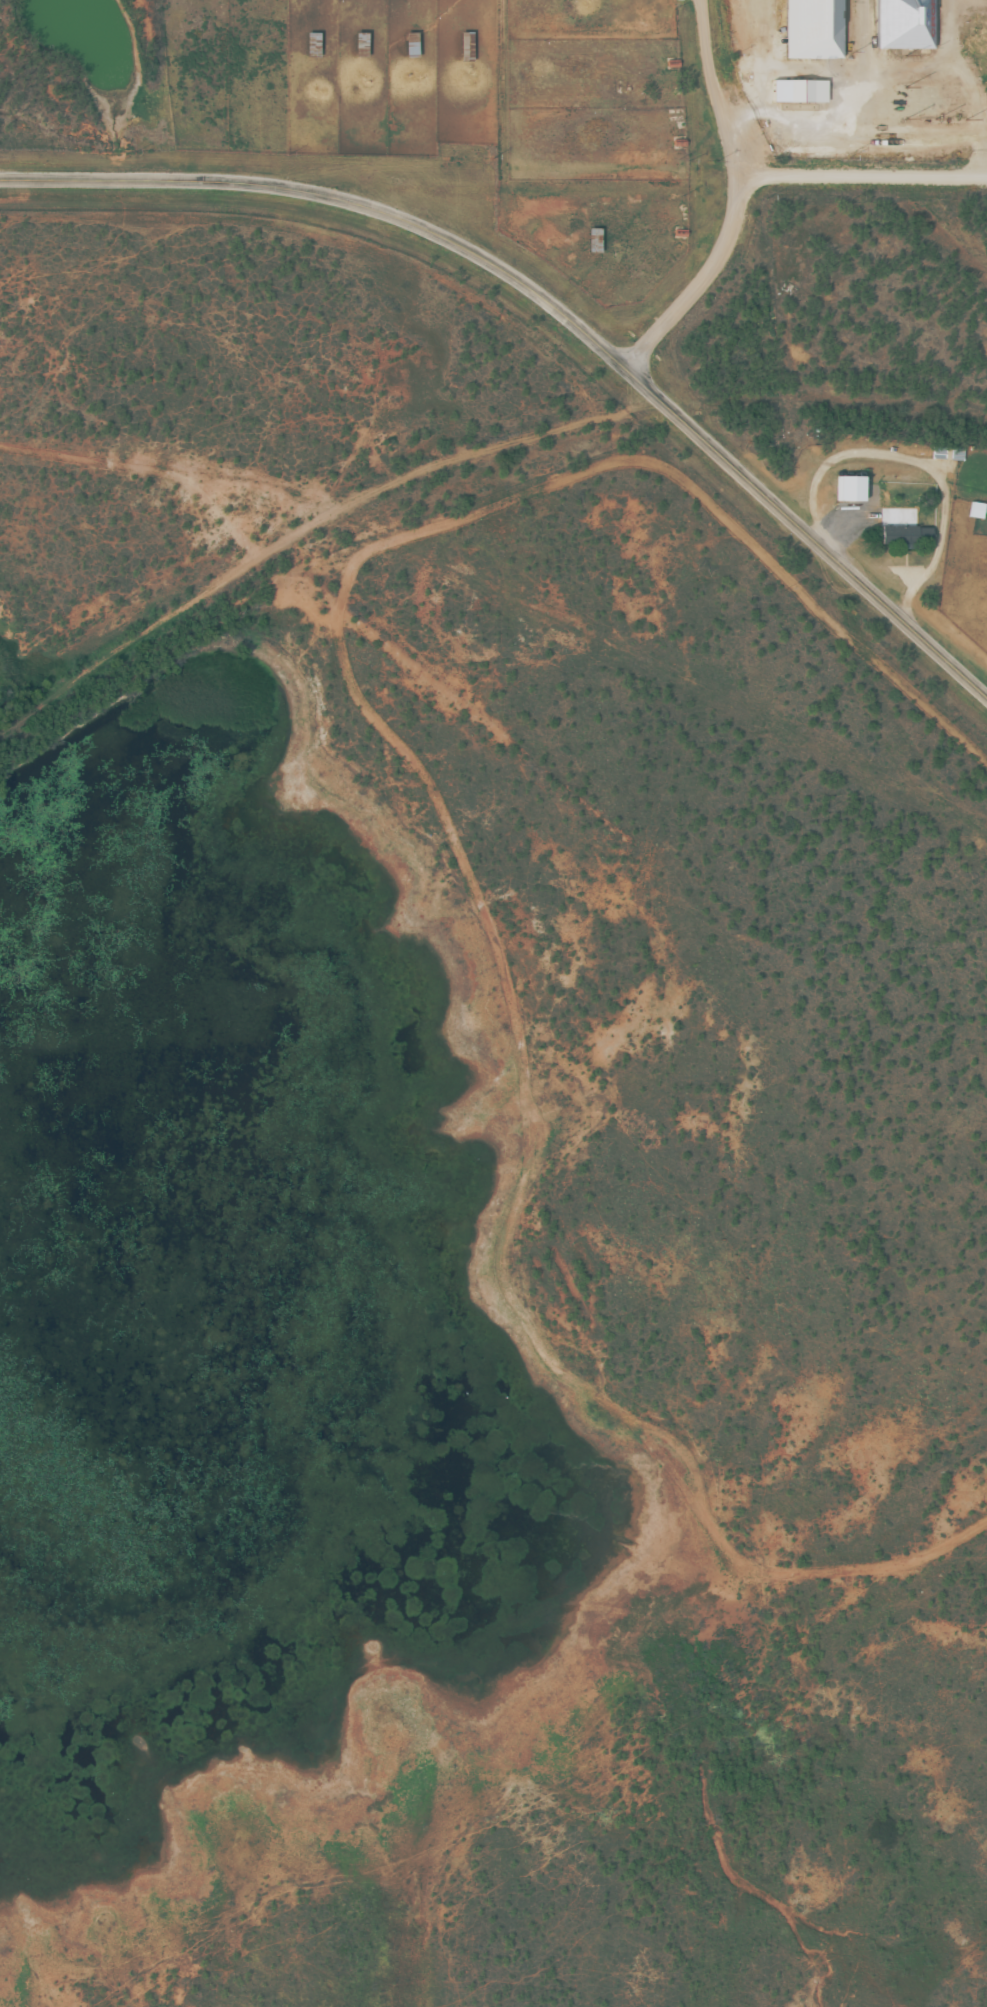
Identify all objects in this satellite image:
building: (904, 28)
building: (812, 33)
building: (410, 52)
building: (798, 99)
road: (862, 173)
road: (737, 204)
road: (554, 309)
railway: (460, 484)
building: (848, 497)
building: (902, 541)

